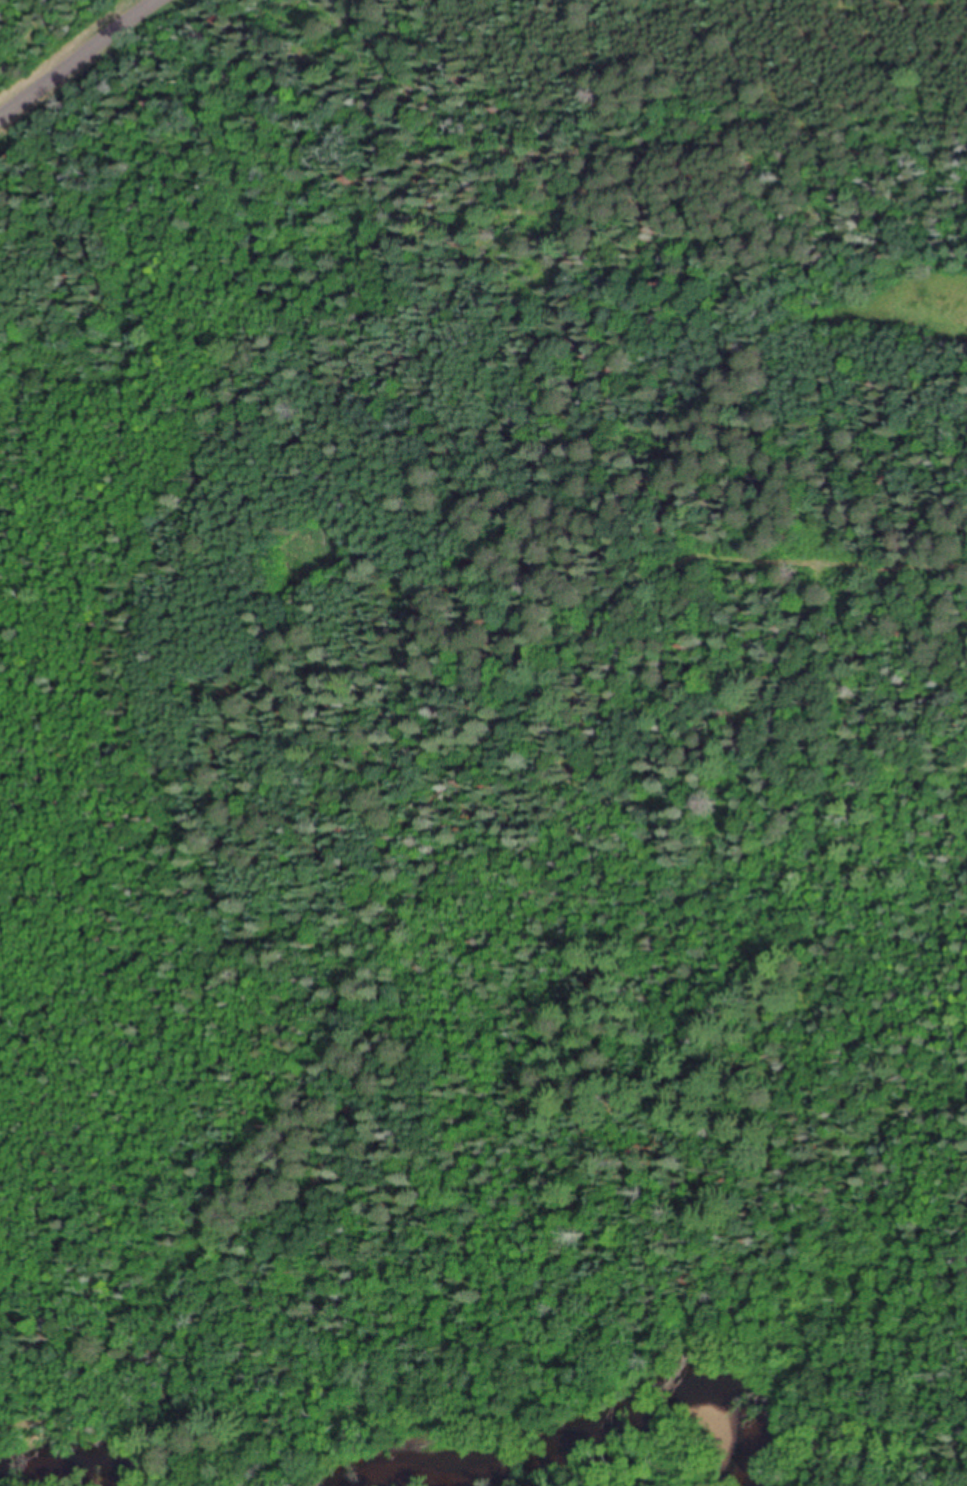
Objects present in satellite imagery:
road: (84, 62)
river: (592, 1441)
river: (83, 1470)

